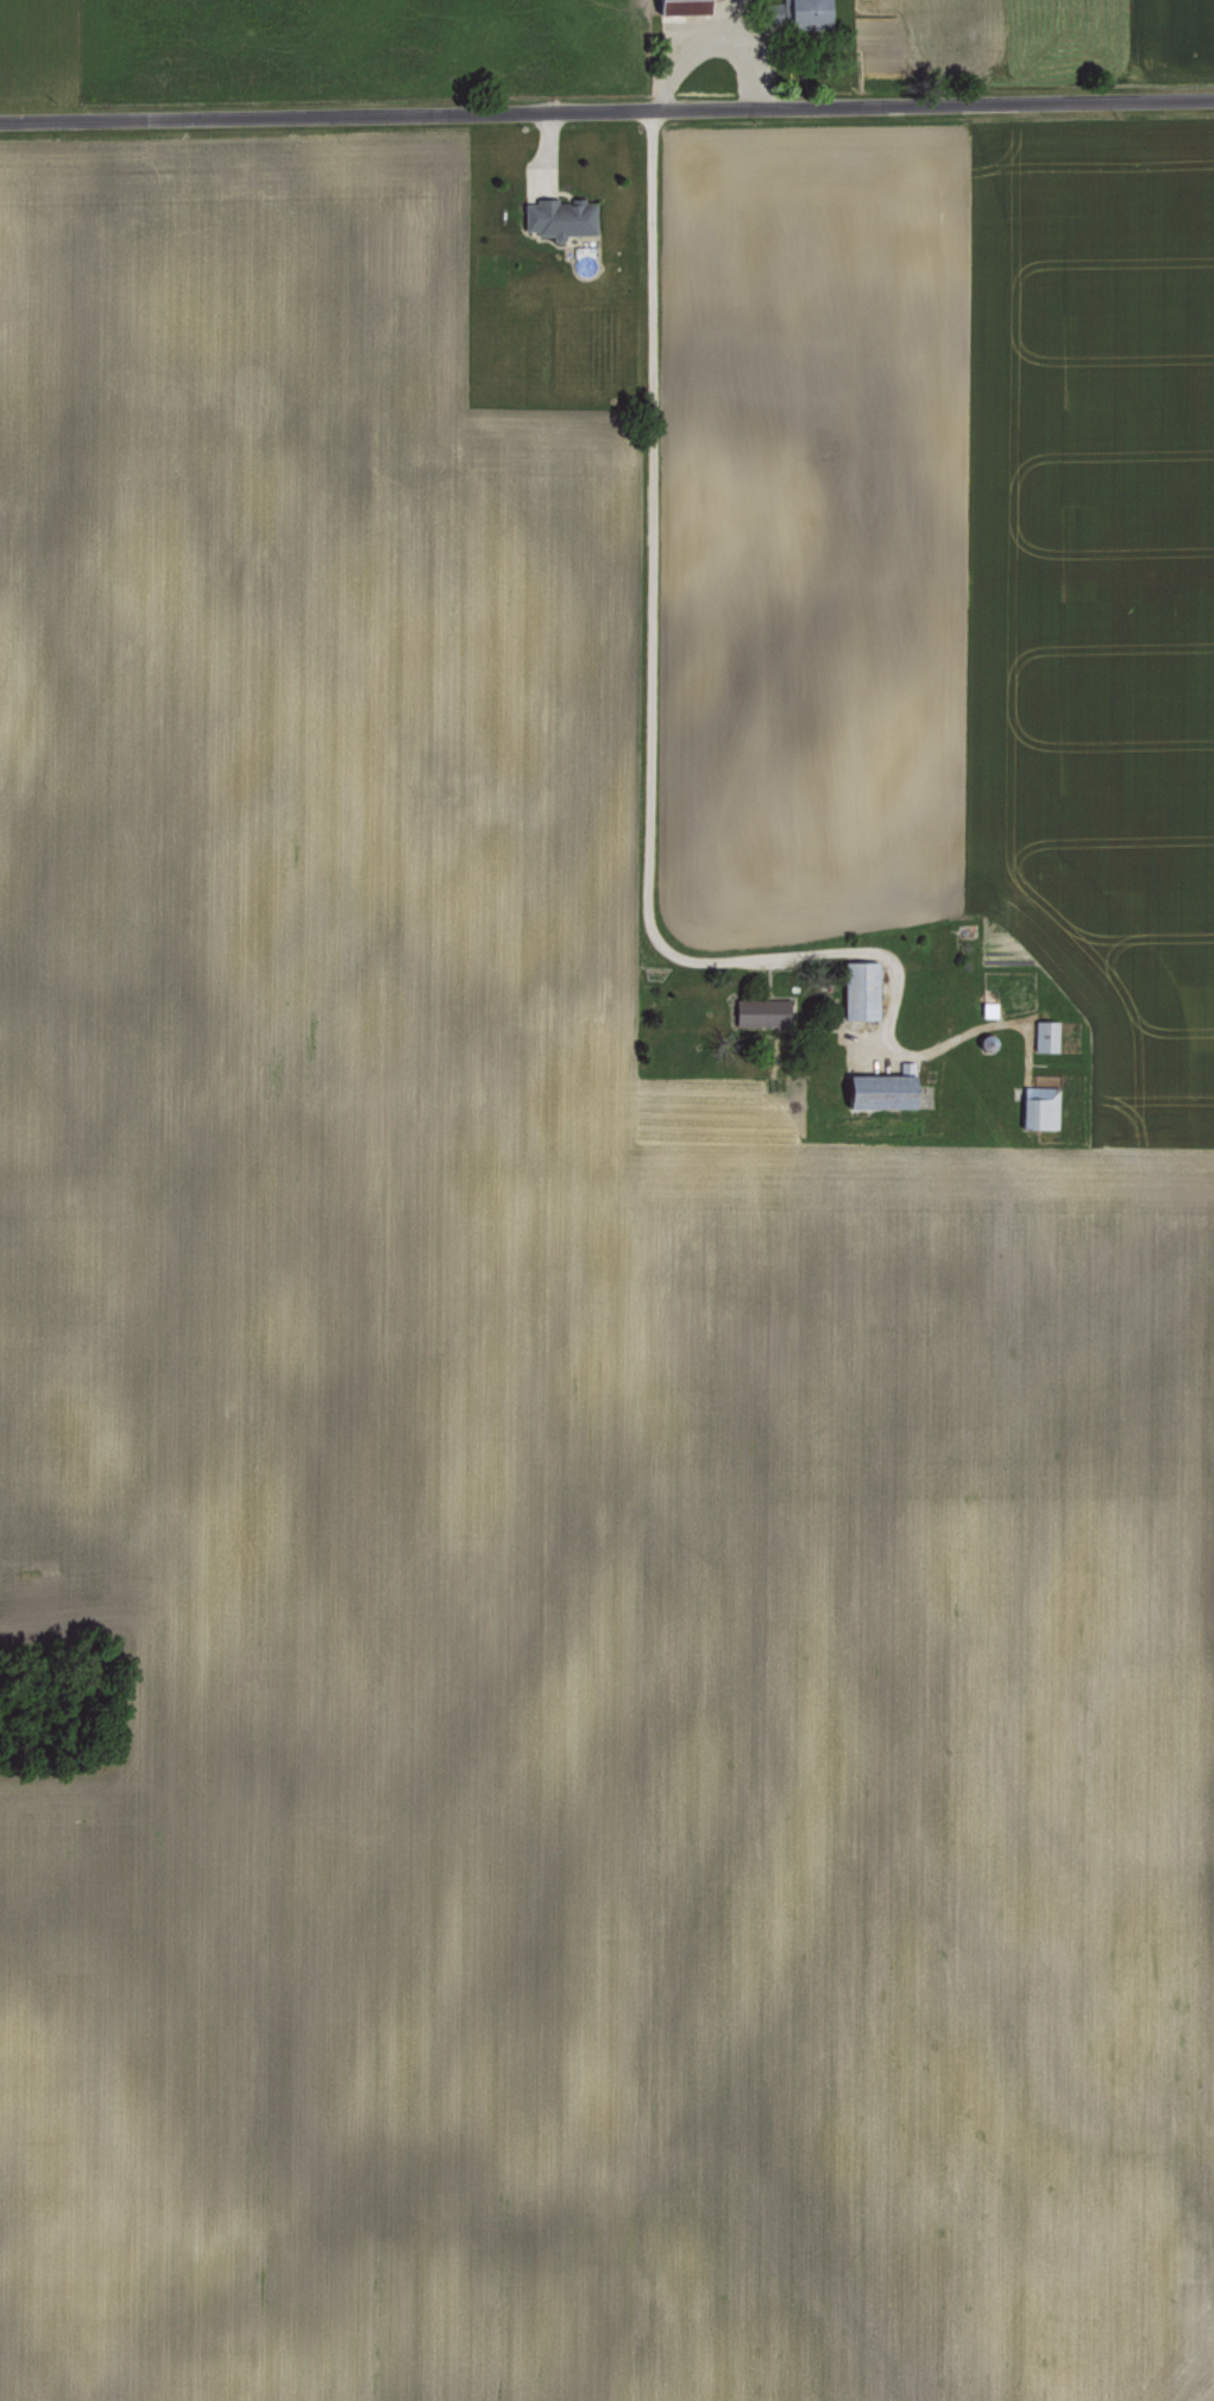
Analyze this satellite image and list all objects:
building: (679, 6)
building: (807, 13)
road: (606, 111)
building: (559, 216)
road: (646, 709)
building: (858, 988)
building: (986, 1007)
building: (760, 1011)
building: (1044, 1035)
building: (881, 1088)
building: (1038, 1106)
crop: (611, 1345)

